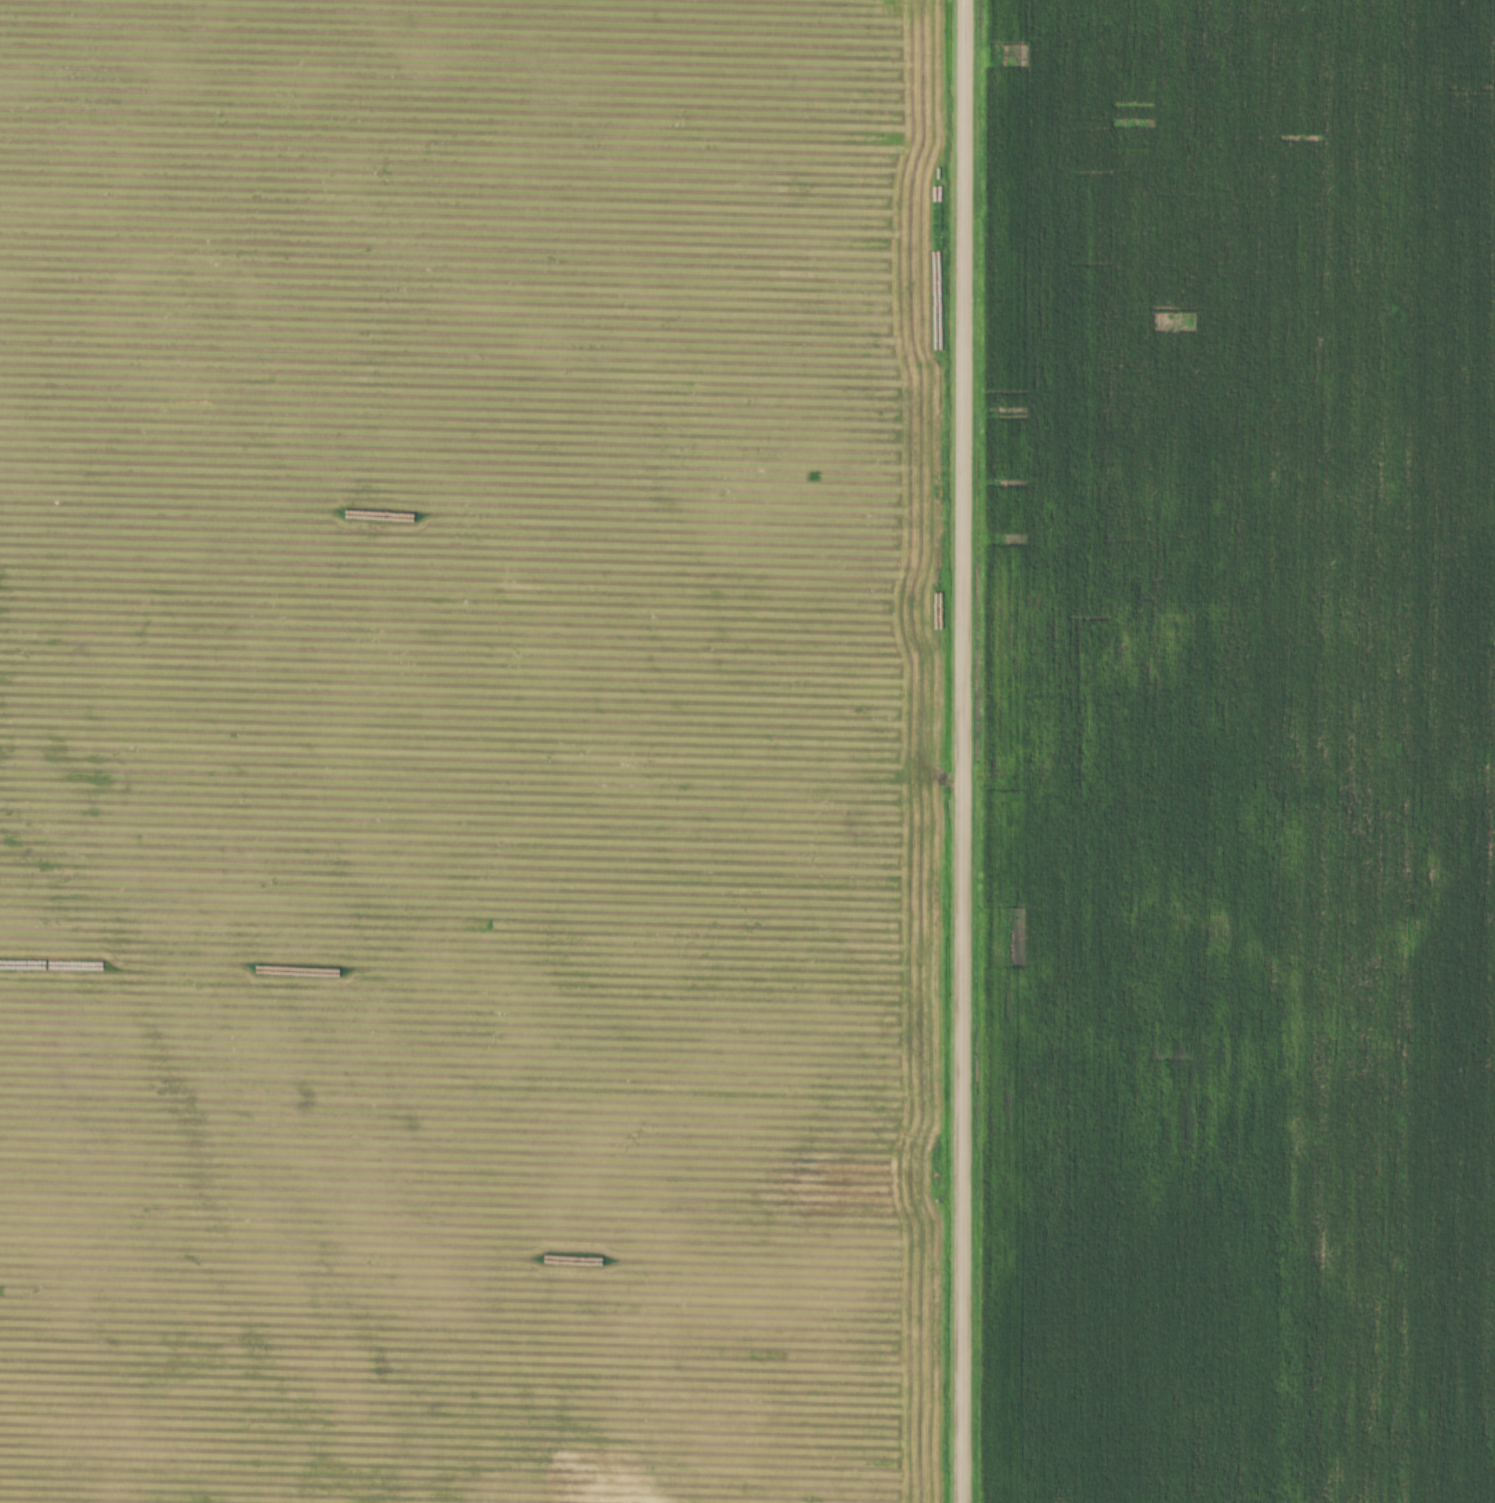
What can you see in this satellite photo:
road: (965, 751)

